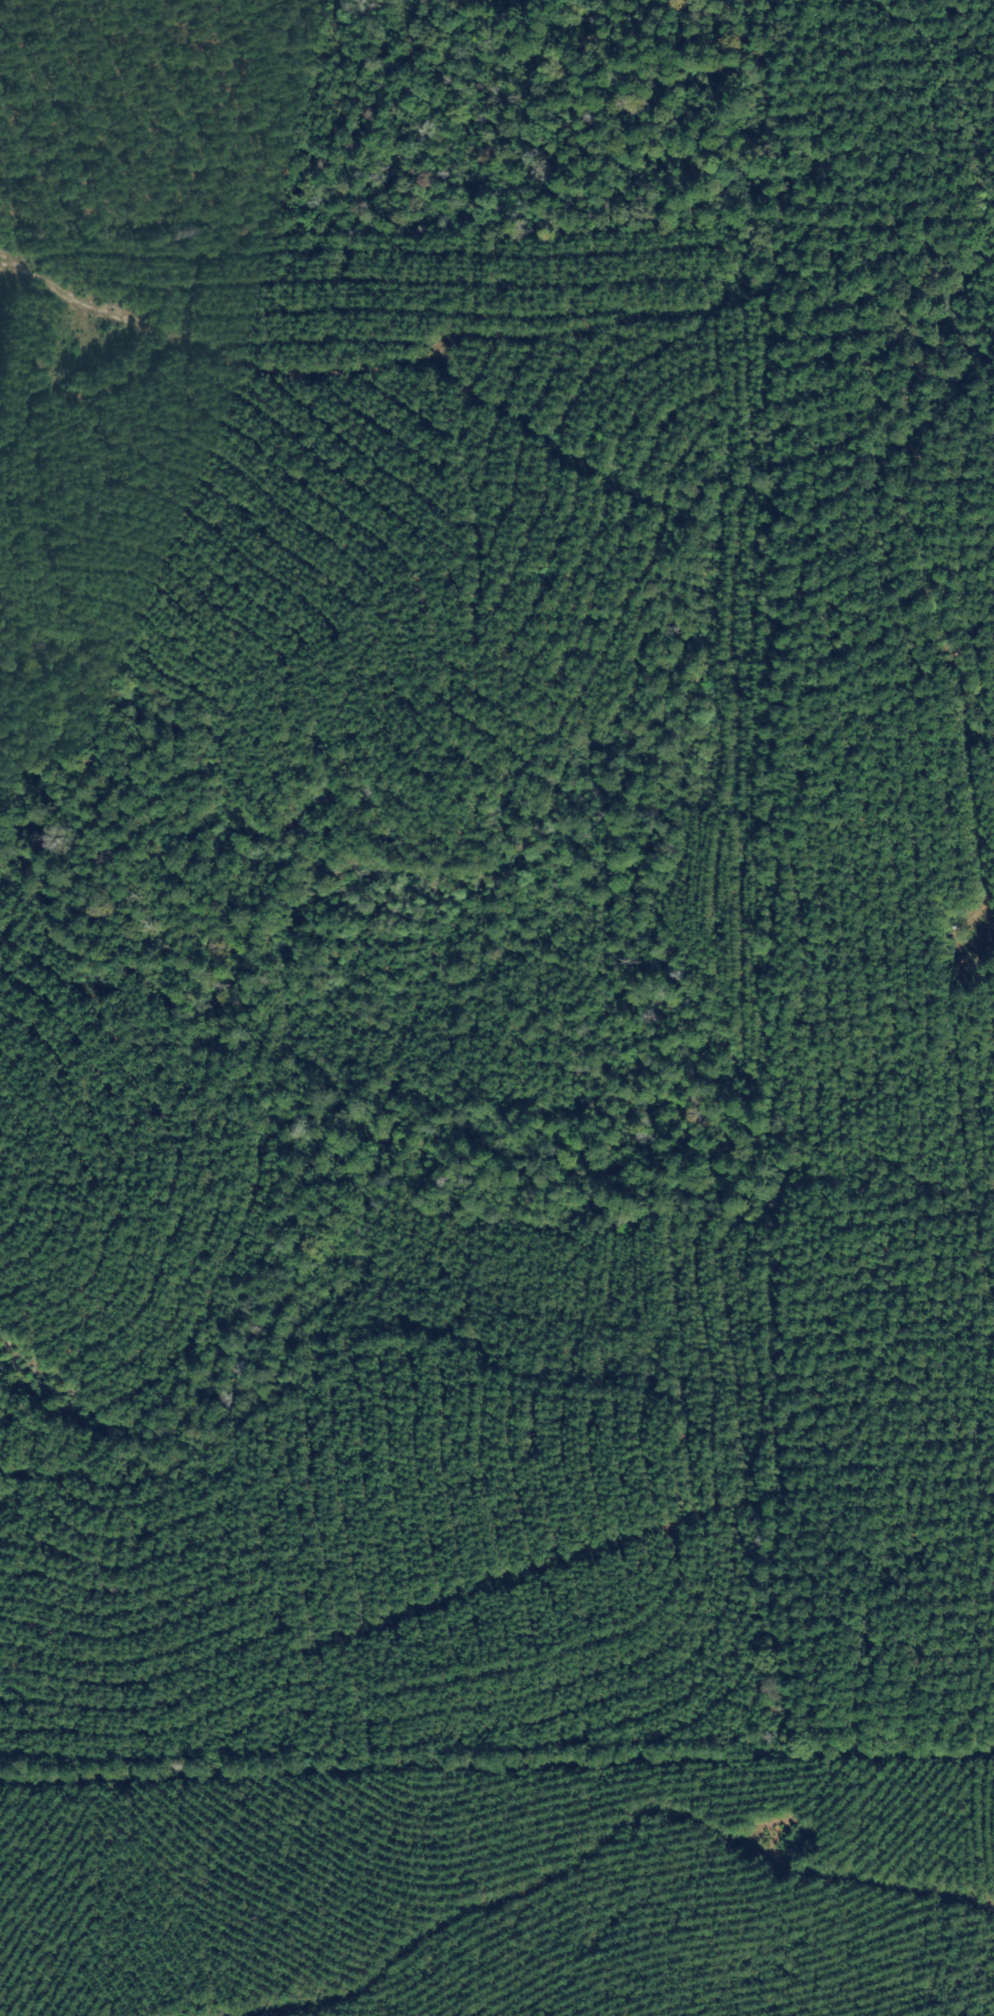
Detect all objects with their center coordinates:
road: (919, 183)

